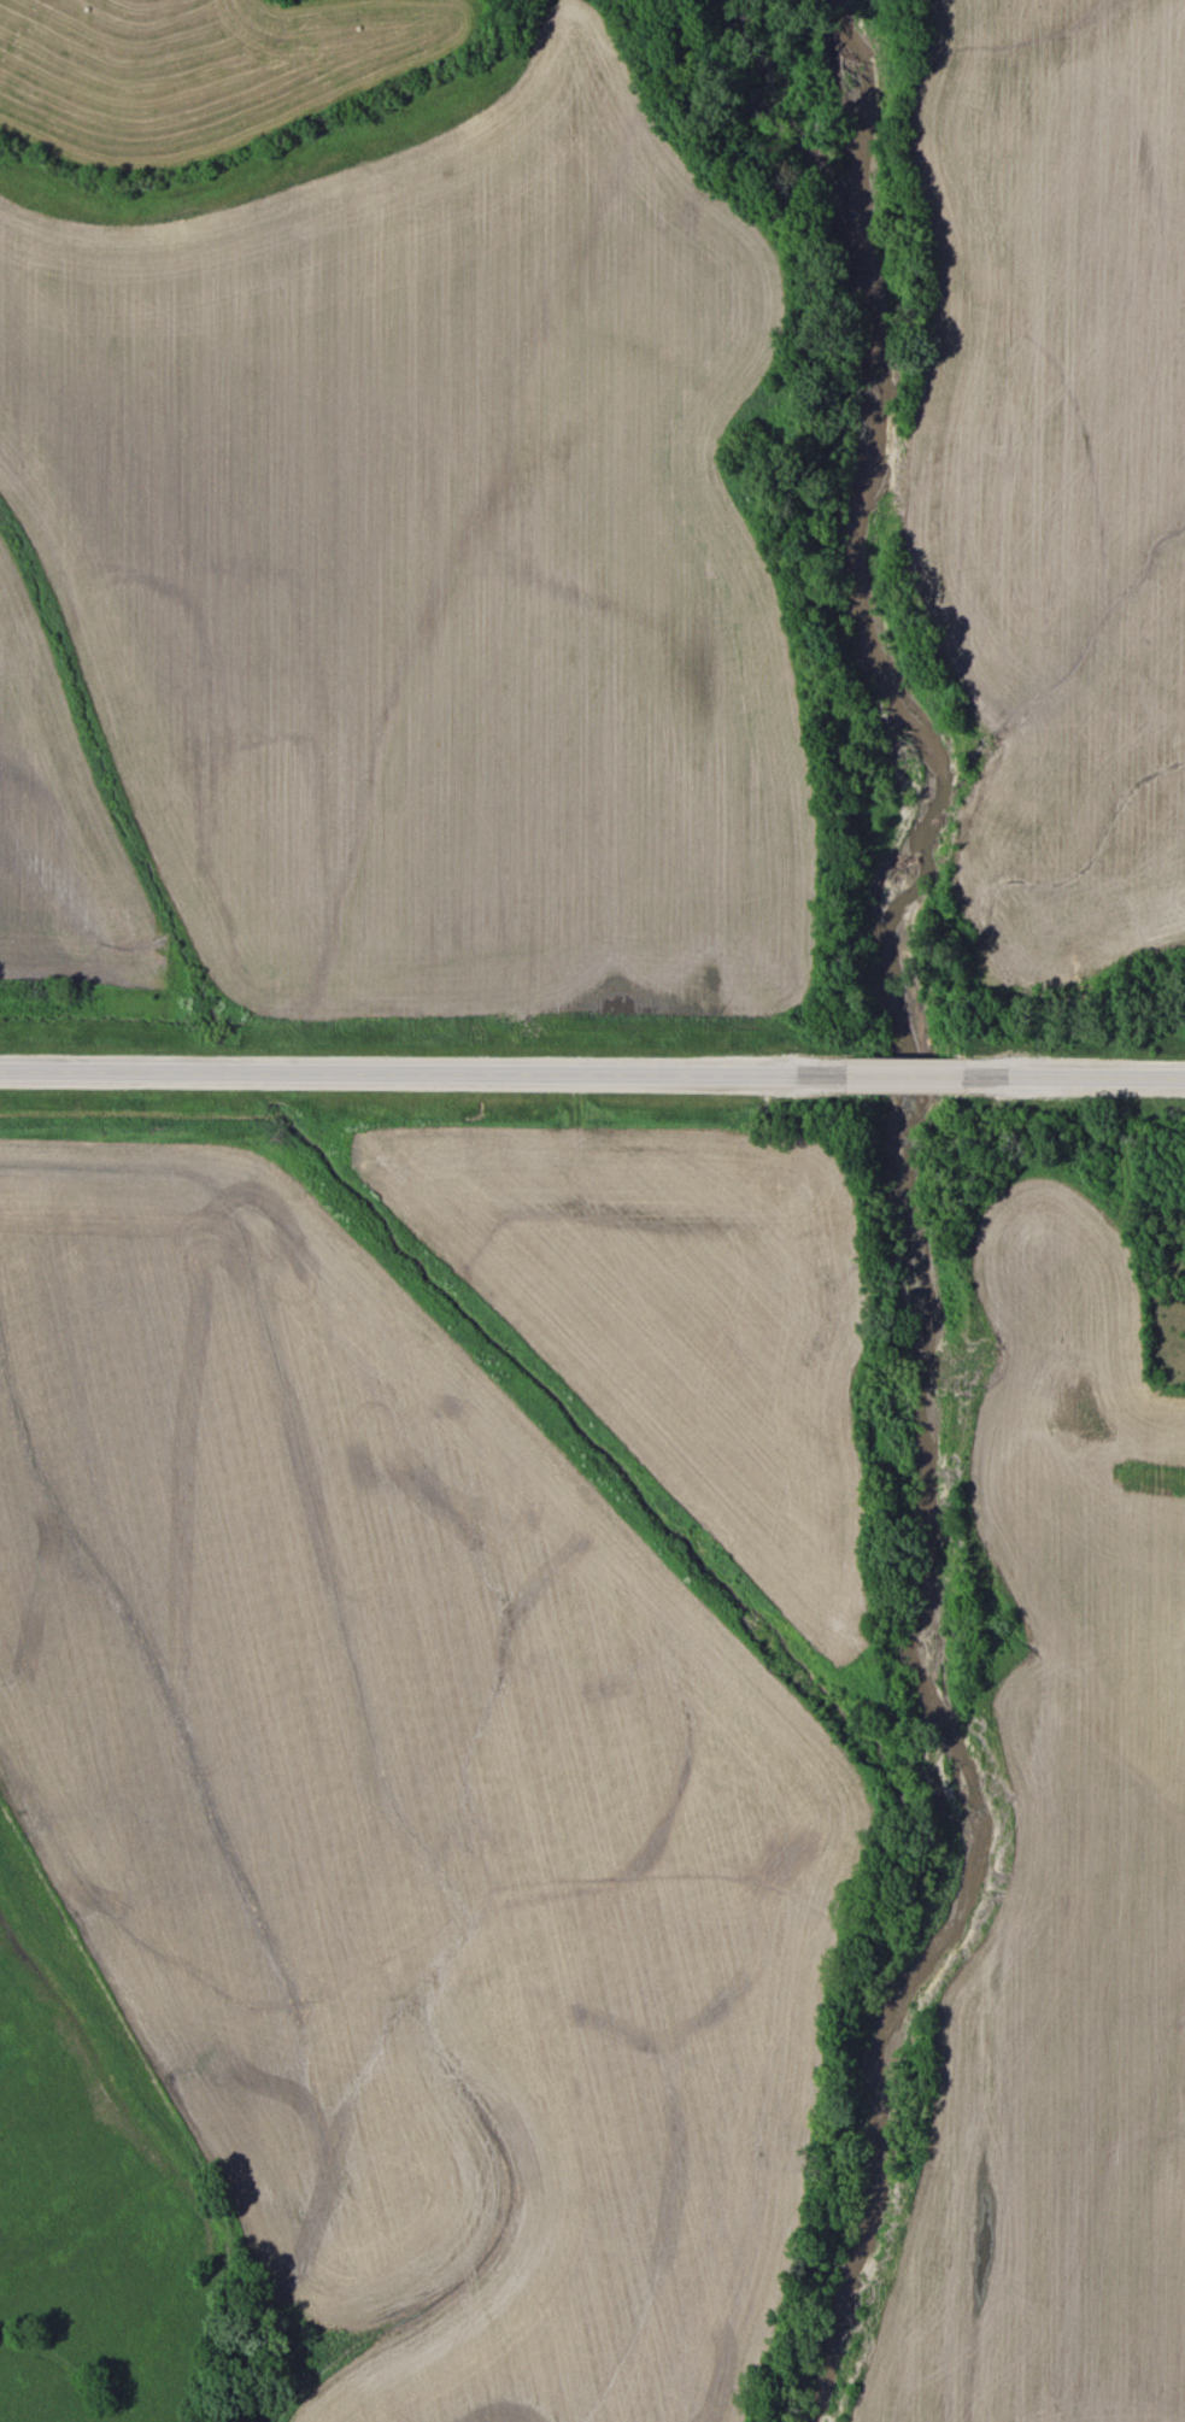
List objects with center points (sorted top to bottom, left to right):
road: (399, 1072)
road: (898, 1077)
road: (1091, 1078)

